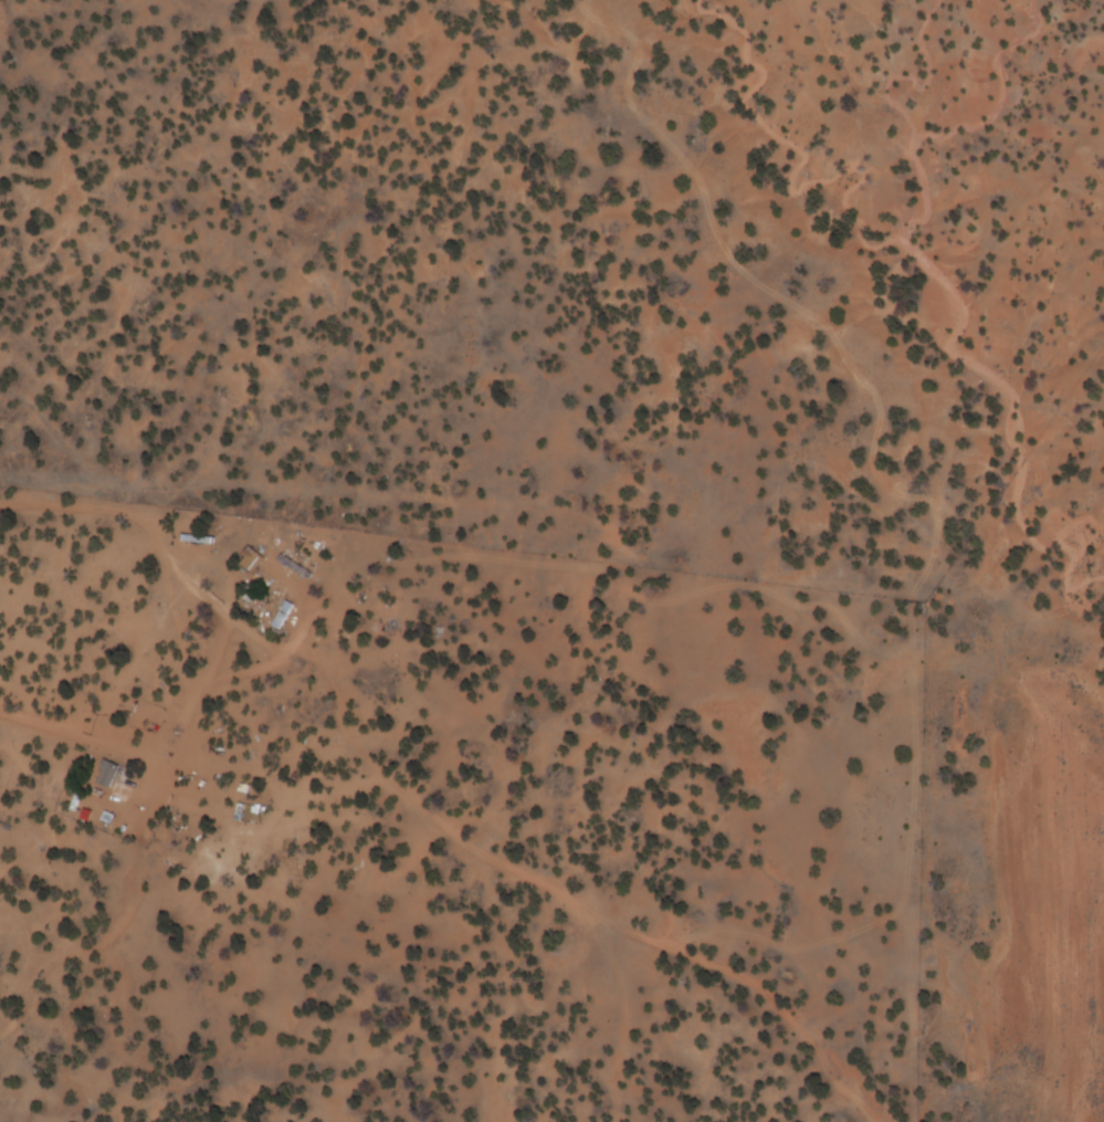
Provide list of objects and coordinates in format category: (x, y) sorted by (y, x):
building: (198, 539)
road: (165, 549)
building: (251, 559)
road: (461, 740)
building: (109, 773)
road: (793, 1015)

